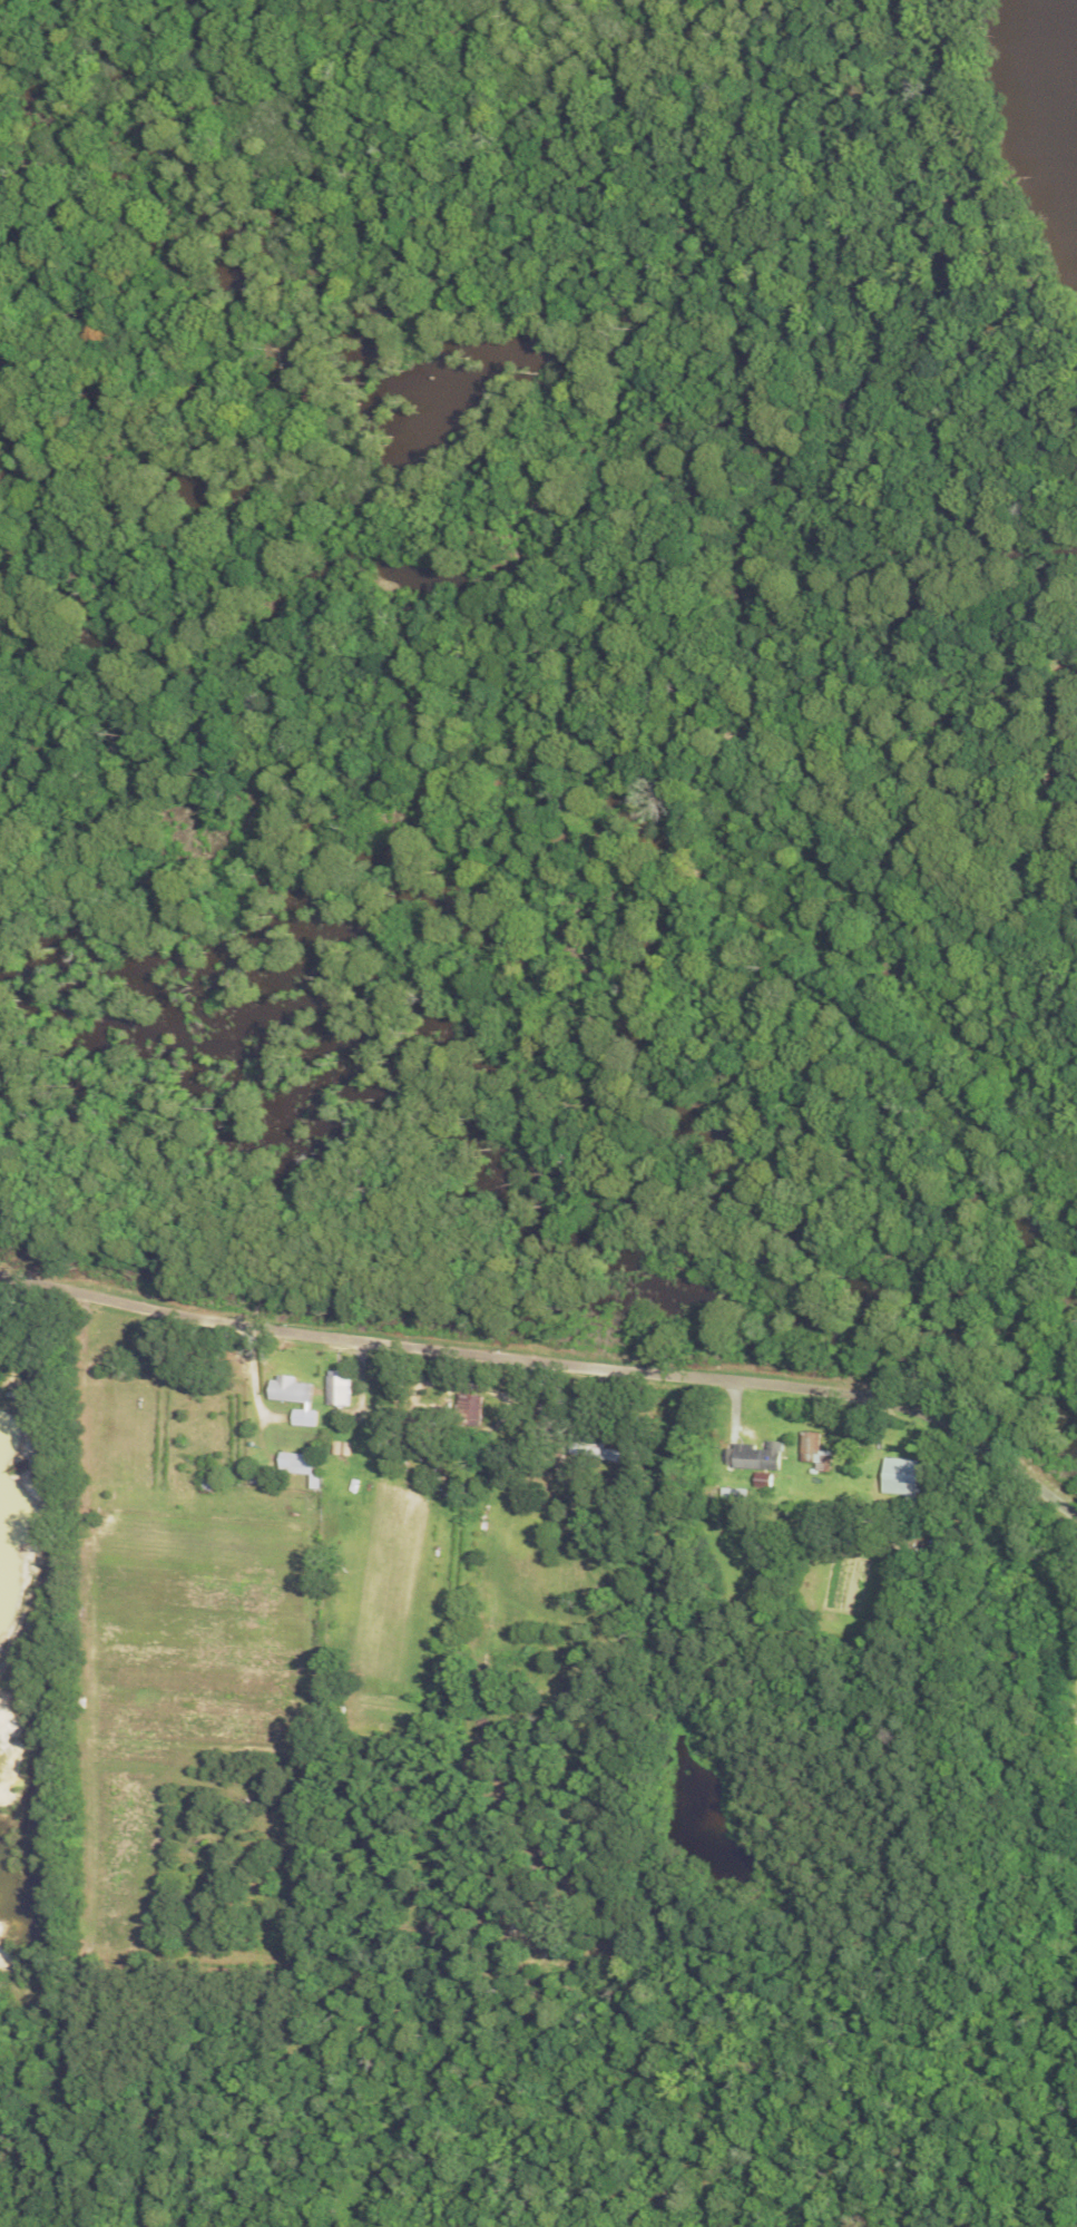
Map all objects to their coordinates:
road: (551, 1357)
building: (470, 1404)
building: (595, 1449)
building: (814, 1449)
building: (755, 1456)
building: (900, 1476)
building: (734, 1495)

